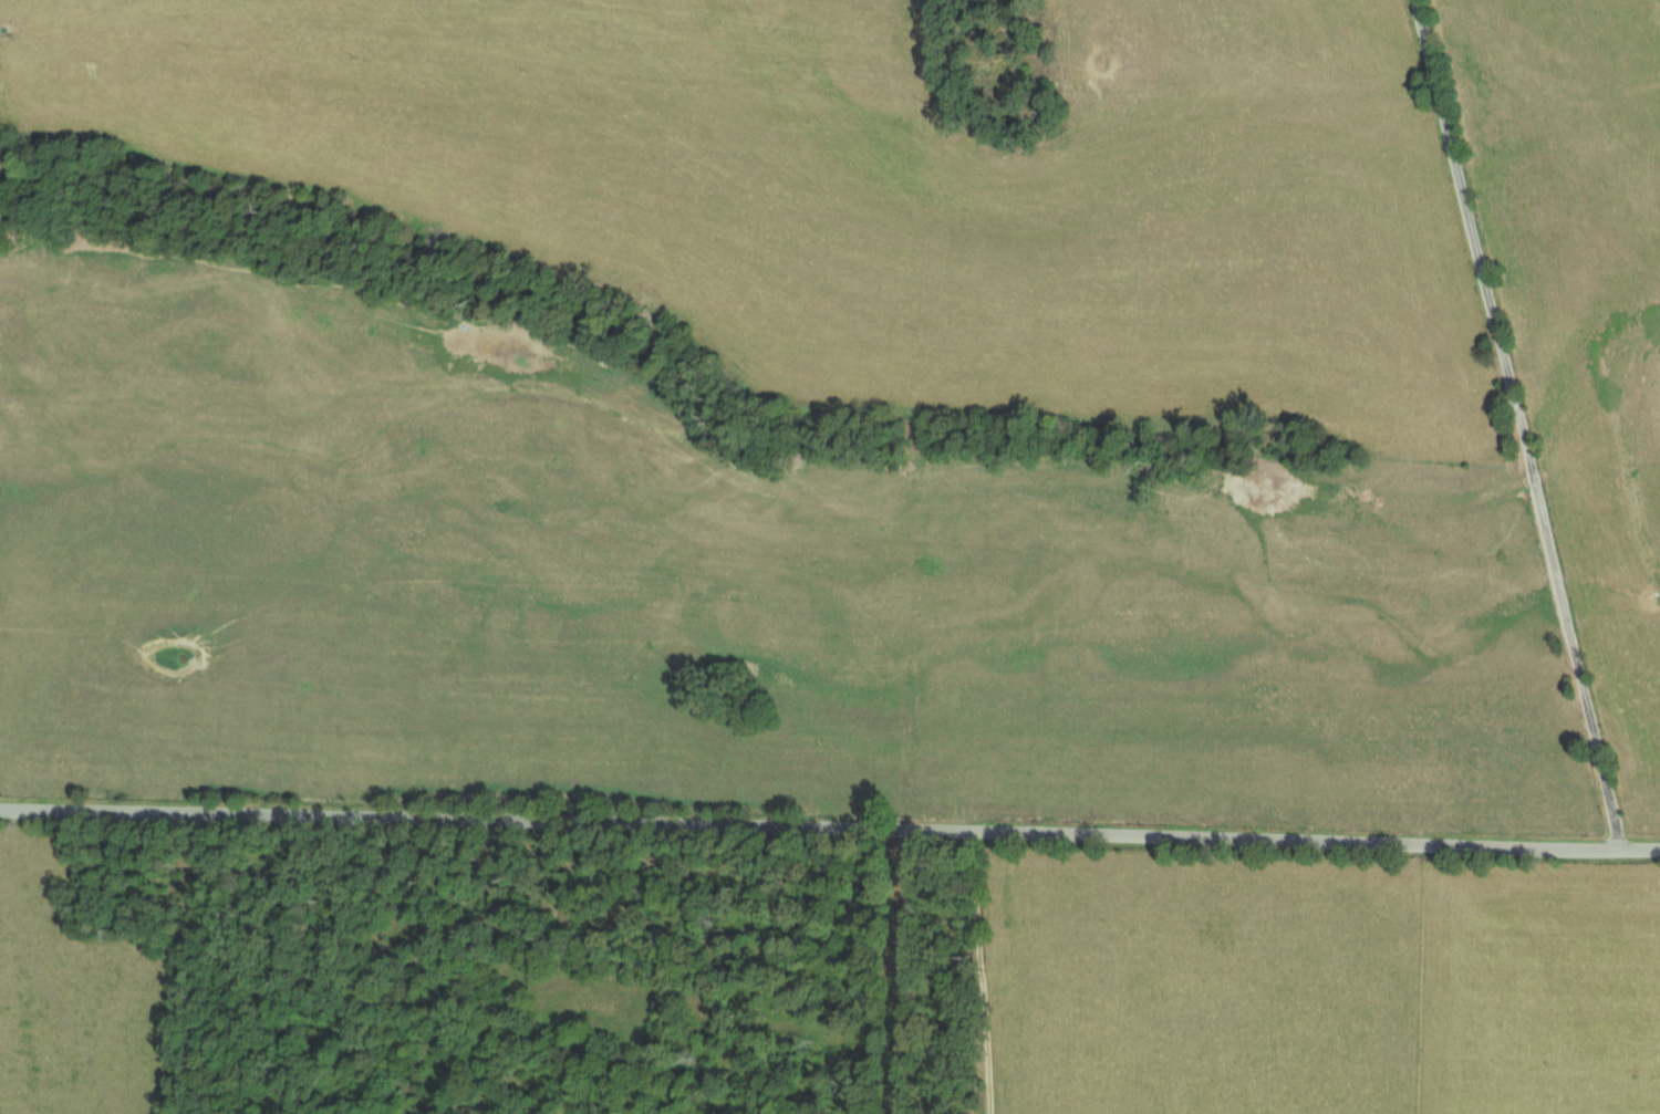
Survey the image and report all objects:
road: (1519, 421)
road: (829, 826)
road: (971, 970)

